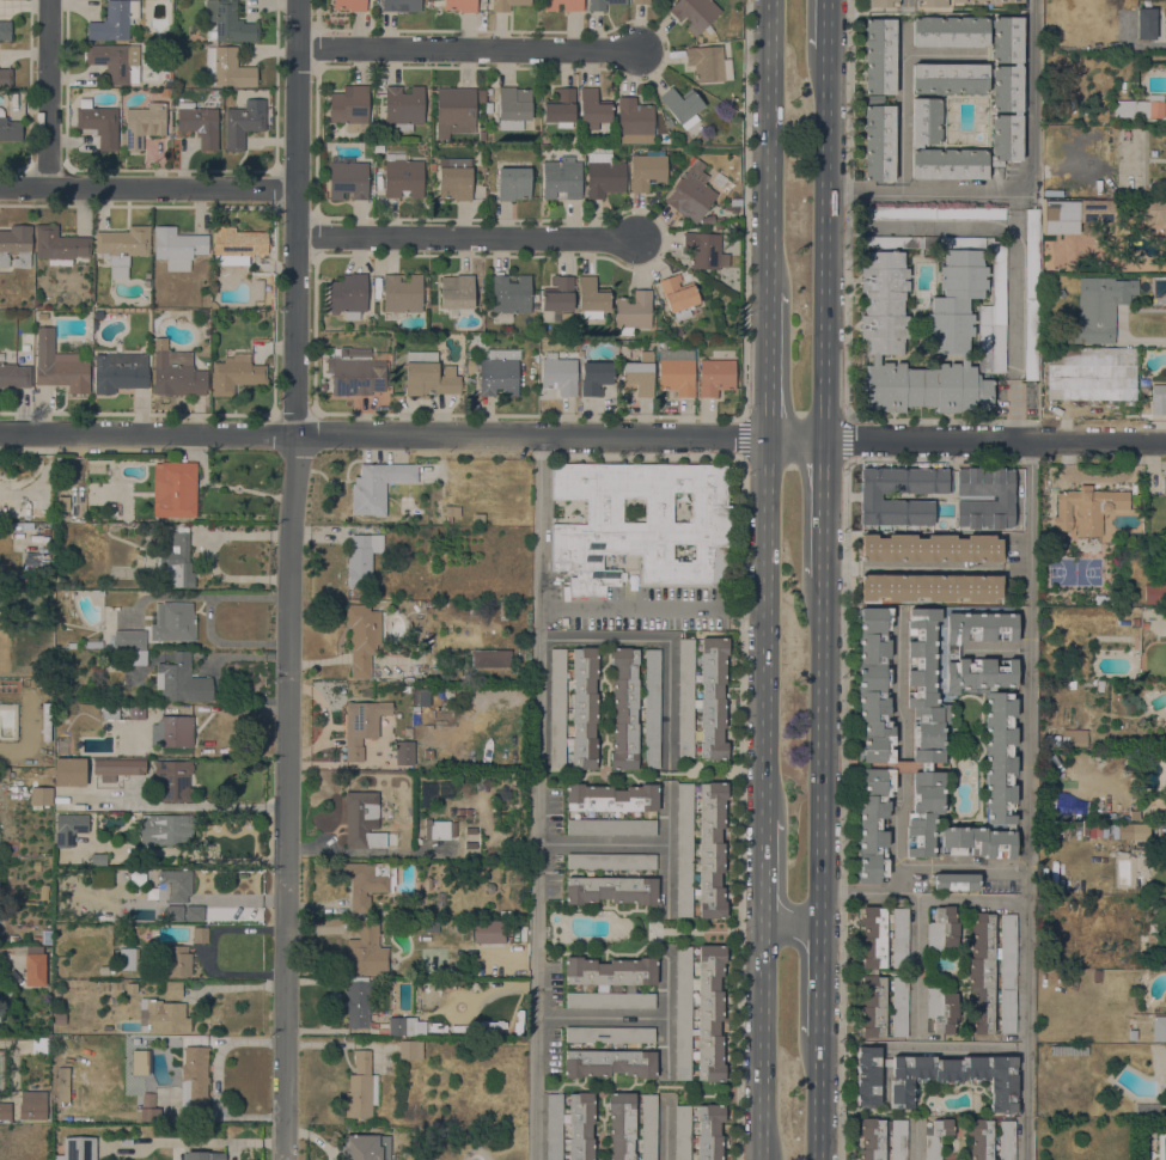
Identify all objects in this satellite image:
building: (640, 1)
building: (982, 1)
building: (434, 2)
building: (883, 2)
building: (930, 2)
building: (603, 4)
building: (350, 5)
building: (401, 5)
building: (460, 5)
building: (506, 5)
building: (563, 5)
road: (906, 5)
building: (694, 13)
building: (114, 20)
building: (228, 23)
building: (1144, 24)
road: (828, 28)
building: (5, 30)
building: (1122, 30)
building: (950, 31)
building: (1007, 39)
road: (465, 48)
building: (879, 55)
building: (114, 62)
building: (708, 63)
building: (226, 67)
building: (6, 78)
building: (948, 78)
road: (902, 84)
building: (1006, 88)
building: (165, 92)
building: (488, 92)
building: (481, 93)
road: (47, 94)
building: (682, 106)
building: (350, 108)
building: (403, 108)
building: (513, 108)
building: (561, 108)
building: (1143, 108)
building: (592, 109)
building: (454, 111)
building: (926, 121)
building: (635, 122)
building: (669, 122)
building: (98, 123)
building: (243, 123)
building: (142, 124)
building: (199, 124)
building: (10, 128)
building: (481, 135)
building: (664, 139)
building: (878, 142)
road: (771, 145)
building: (917, 146)
building: (971, 153)
building: (432, 167)
building: (647, 170)
building: (402, 176)
building: (604, 176)
building: (347, 178)
building: (454, 178)
building: (561, 178)
building: (513, 183)
road: (147, 189)
road: (1025, 190)
building: (691, 191)
building: (735, 201)
building: (1097, 210)
building: (933, 212)
building: (1154, 212)
road: (295, 216)
building: (1062, 218)
building: (707, 219)
road: (464, 237)
building: (16, 245)
building: (60, 245)
building: (238, 245)
building: (122, 248)
building: (177, 248)
road: (826, 248)
building: (704, 250)
road: (1012, 264)
building: (999, 276)
building: (1078, 281)
building: (1089, 281)
building: (1100, 281)
building: (1123, 291)
building: (402, 292)
building: (457, 292)
building: (348, 294)
building: (511, 294)
building: (1031, 294)
building: (678, 295)
building: (560, 297)
building: (535, 298)
building: (592, 298)
road: (848, 301)
building: (884, 301)
building: (956, 301)
building: (37, 304)
building: (633, 312)
building: (260, 313)
building: (97, 315)
building: (42, 316)
building: (94, 324)
building: (25, 347)
building: (624, 352)
building: (874, 359)
building: (967, 361)
building: (60, 365)
road: (770, 365)
building: (676, 370)
building: (356, 371)
building: (120, 372)
building: (499, 372)
building: (176, 373)
building: (236, 373)
building: (558, 373)
building: (640, 373)
building: (1091, 373)
building: (14, 376)
building: (428, 376)
building: (594, 377)
building: (715, 377)
building: (924, 387)
building: (1159, 399)
road: (582, 438)
road: (847, 438)
building: (378, 486)
building: (175, 489)
building: (1164, 489)
building: (869, 496)
building: (984, 497)
building: (62, 503)
building: (1087, 508)
road: (823, 512)
building: (451, 513)
building: (478, 518)
building: (641, 524)
building: (45, 531)
building: (930, 548)
building: (361, 558)
building: (35, 560)
building: (176, 563)
road: (927, 568)
building: (929, 587)
building: (1154, 593)
road: (654, 608)
building: (503, 609)
building: (177, 622)
building: (1135, 622)
building: (1144, 625)
building: (979, 627)
road: (768, 629)
building: (429, 636)
building: (362, 637)
building: (129, 640)
road: (669, 640)
road: (997, 651)
building: (136, 657)
building: (490, 659)
road: (847, 664)
building: (446, 673)
building: (181, 680)
building: (875, 684)
building: (924, 686)
building: (405, 689)
building: (421, 697)
building: (713, 697)
building: (685, 698)
building: (652, 707)
building: (557, 708)
building: (584, 708)
building: (624, 708)
building: (123, 712)
building: (361, 725)
building: (993, 727)
building: (175, 731)
building: (1052, 740)
building: (1078, 741)
road: (820, 746)
building: (405, 752)
building: (428, 753)
building: (117, 768)
building: (69, 771)
building: (5, 774)
building: (173, 780)
building: (41, 795)
road: (285, 796)
building: (611, 798)
road: (537, 799)
road: (1028, 800)
road: (902, 801)
road: (739, 810)
building: (459, 811)
building: (468, 811)
building: (923, 813)
building: (1135, 817)
building: (364, 820)
building: (874, 824)
building: (611, 826)
building: (69, 828)
building: (1011, 828)
building: (165, 829)
building: (437, 829)
building: (1125, 831)
building: (977, 842)
building: (469, 843)
road: (602, 844)
road: (667, 849)
building: (684, 850)
building: (710, 850)
road: (767, 857)
building: (98, 859)
building: (611, 861)
building: (103, 878)
road: (902, 879)
building: (367, 881)
building: (956, 881)
building: (173, 886)
building: (611, 890)
road: (860, 893)
road: (963, 899)
road: (790, 909)
building: (175, 912)
building: (194, 912)
building: (431, 926)
building: (942, 929)
road: (818, 930)
building: (487, 932)
building: (200, 934)
building: (45, 936)
building: (1, 939)
road: (793, 939)
building: (365, 950)
building: (1051, 956)
building: (128, 959)
building: (173, 960)
building: (1156, 961)
building: (879, 963)
building: (35, 966)
road: (916, 967)
building: (104, 970)
building: (993, 972)
building: (1097, 976)
building: (610, 982)
building: (130, 988)
building: (173, 989)
road: (818, 993)
building: (356, 1003)
building: (899, 1006)
building: (941, 1011)
building: (700, 1013)
building: (166, 1016)
road: (666, 1016)
building: (59, 1018)
road: (600, 1018)
building: (402, 1026)
road: (764, 1027)
building: (1159, 1028)
building: (610, 1034)
building: (38, 1045)
building: (410, 1049)
road: (957, 1050)
building: (1068, 1050)
building: (138, 1062)
building: (609, 1063)
building: (194, 1076)
building: (934, 1076)
building: (62, 1085)
building: (361, 1087)
road: (817, 1097)
building: (32, 1105)
building: (148, 1109)
building: (5, 1111)
building: (621, 1124)
building: (554, 1127)
building: (580, 1127)
building: (648, 1127)
road: (665, 1129)
building: (709, 1131)
building: (682, 1132)
building: (883, 1138)
road: (915, 1138)
building: (938, 1138)
building: (981, 1138)
building: (1006, 1140)
building: (366, 1147)
building: (78, 1148)
building: (203, 1155)

